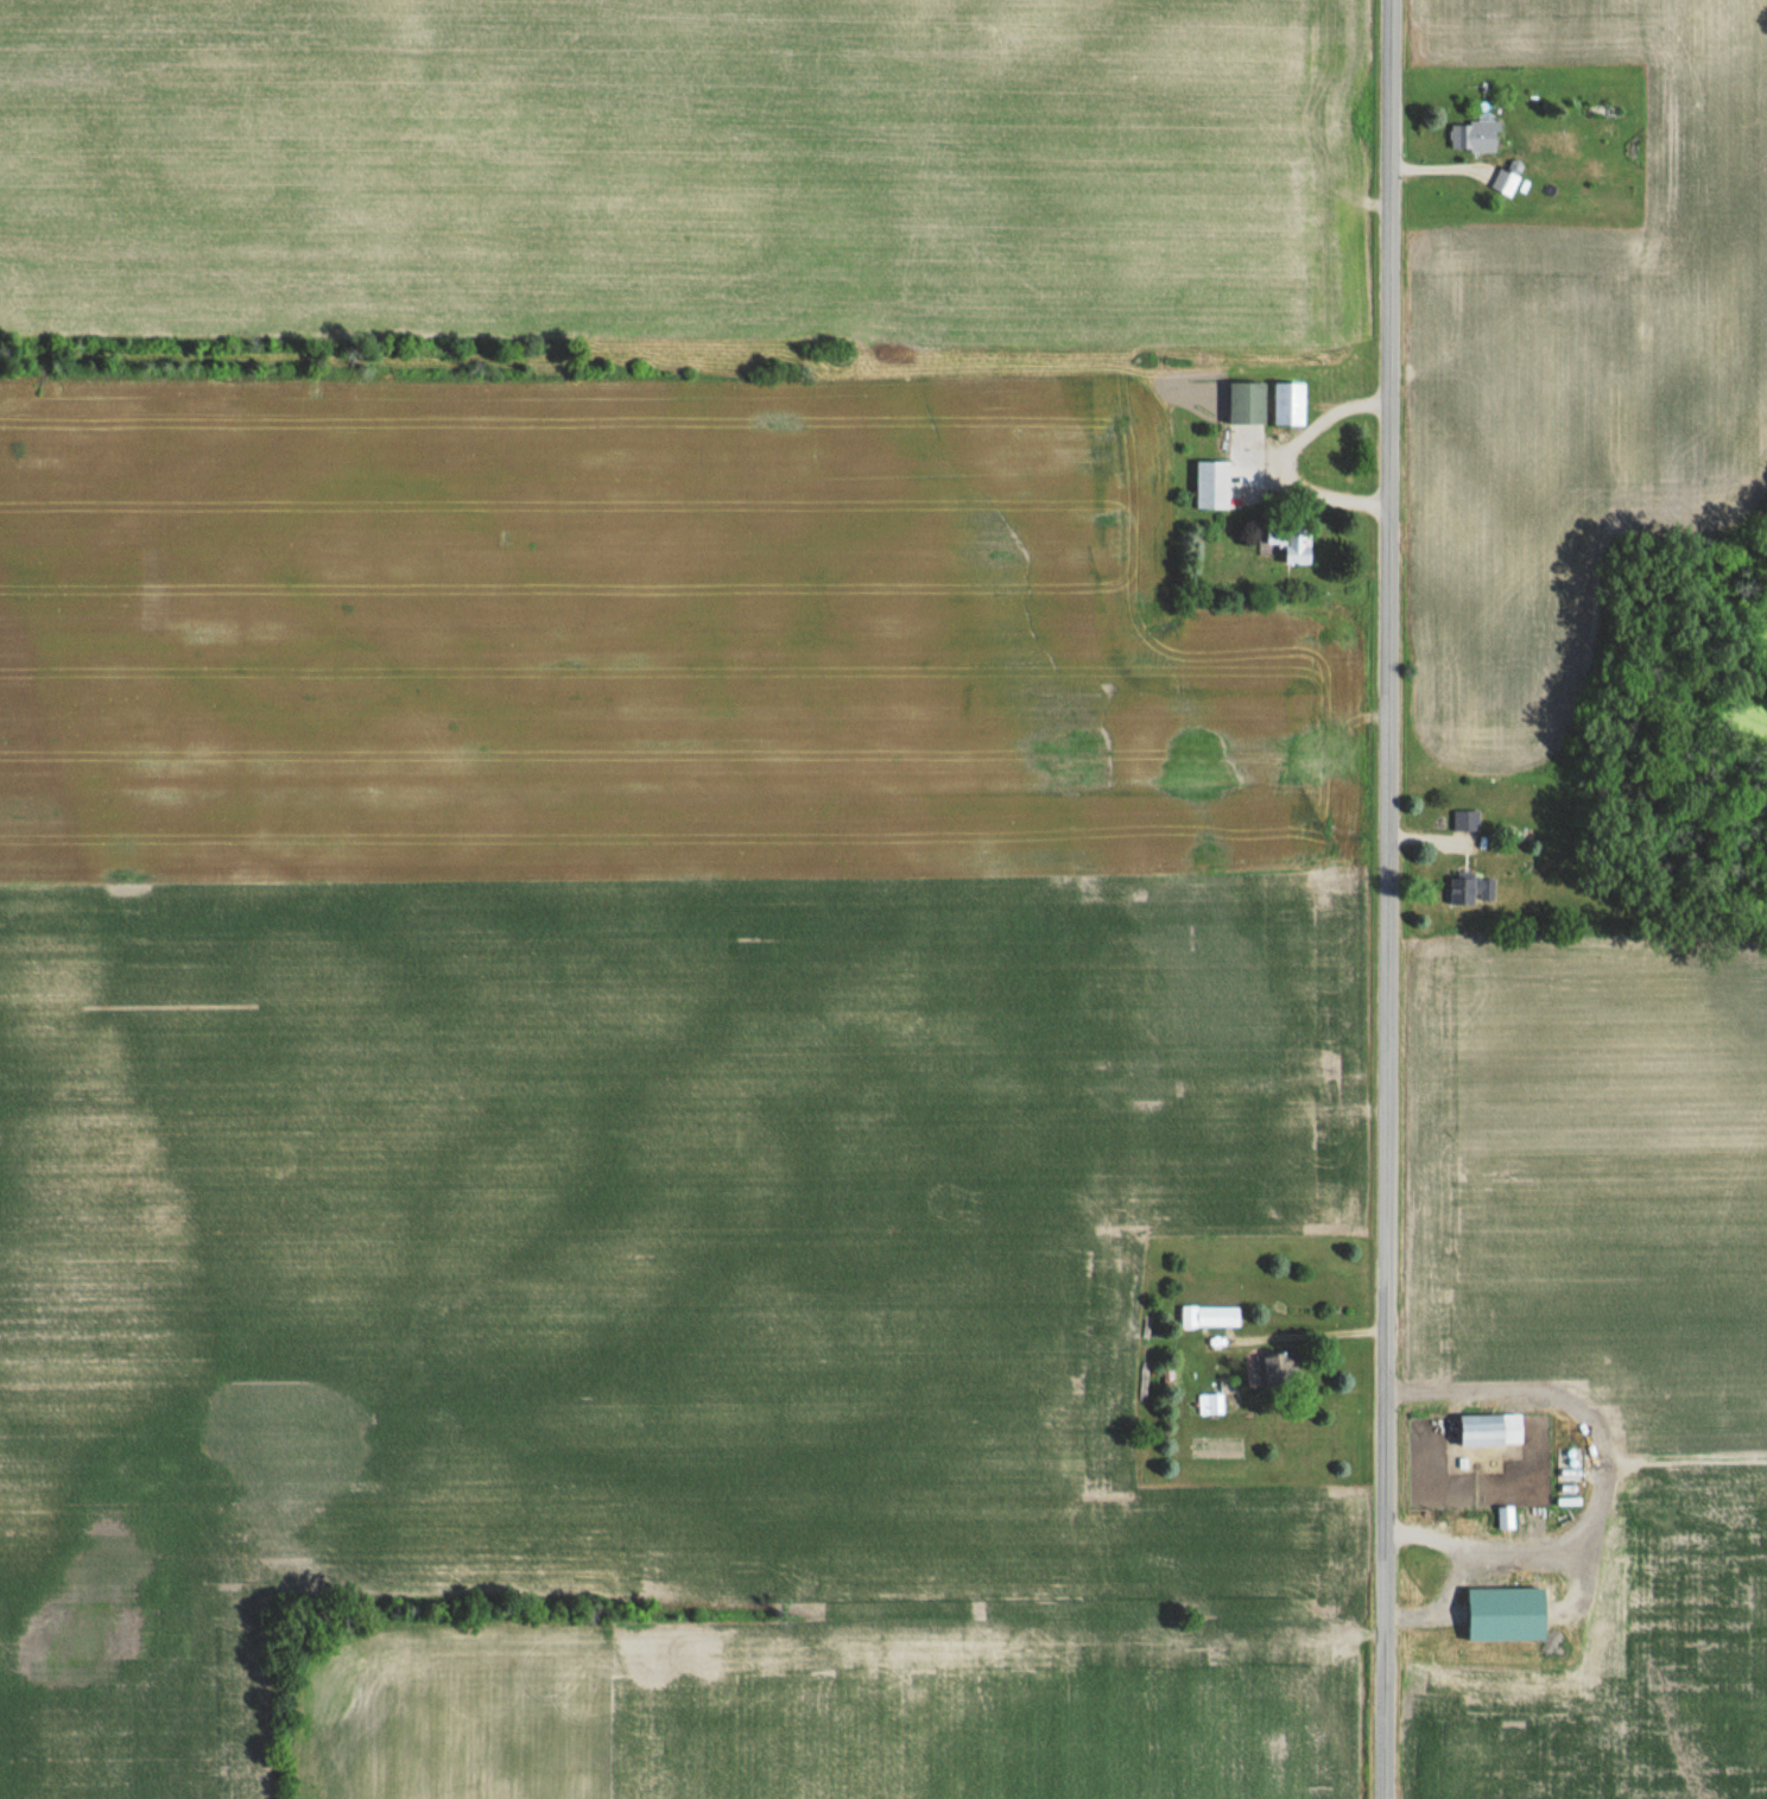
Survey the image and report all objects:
building: (1475, 137)
building: (1506, 182)
building: (1248, 401)
building: (1292, 403)
building: (1215, 483)
building: (1297, 545)
building: (1467, 819)
building: (1472, 888)
road: (1387, 899)
building: (1211, 1315)
road: (1315, 1330)
building: (1271, 1368)
building: (1204, 1402)
building: (1493, 1429)
building: (1507, 1516)

